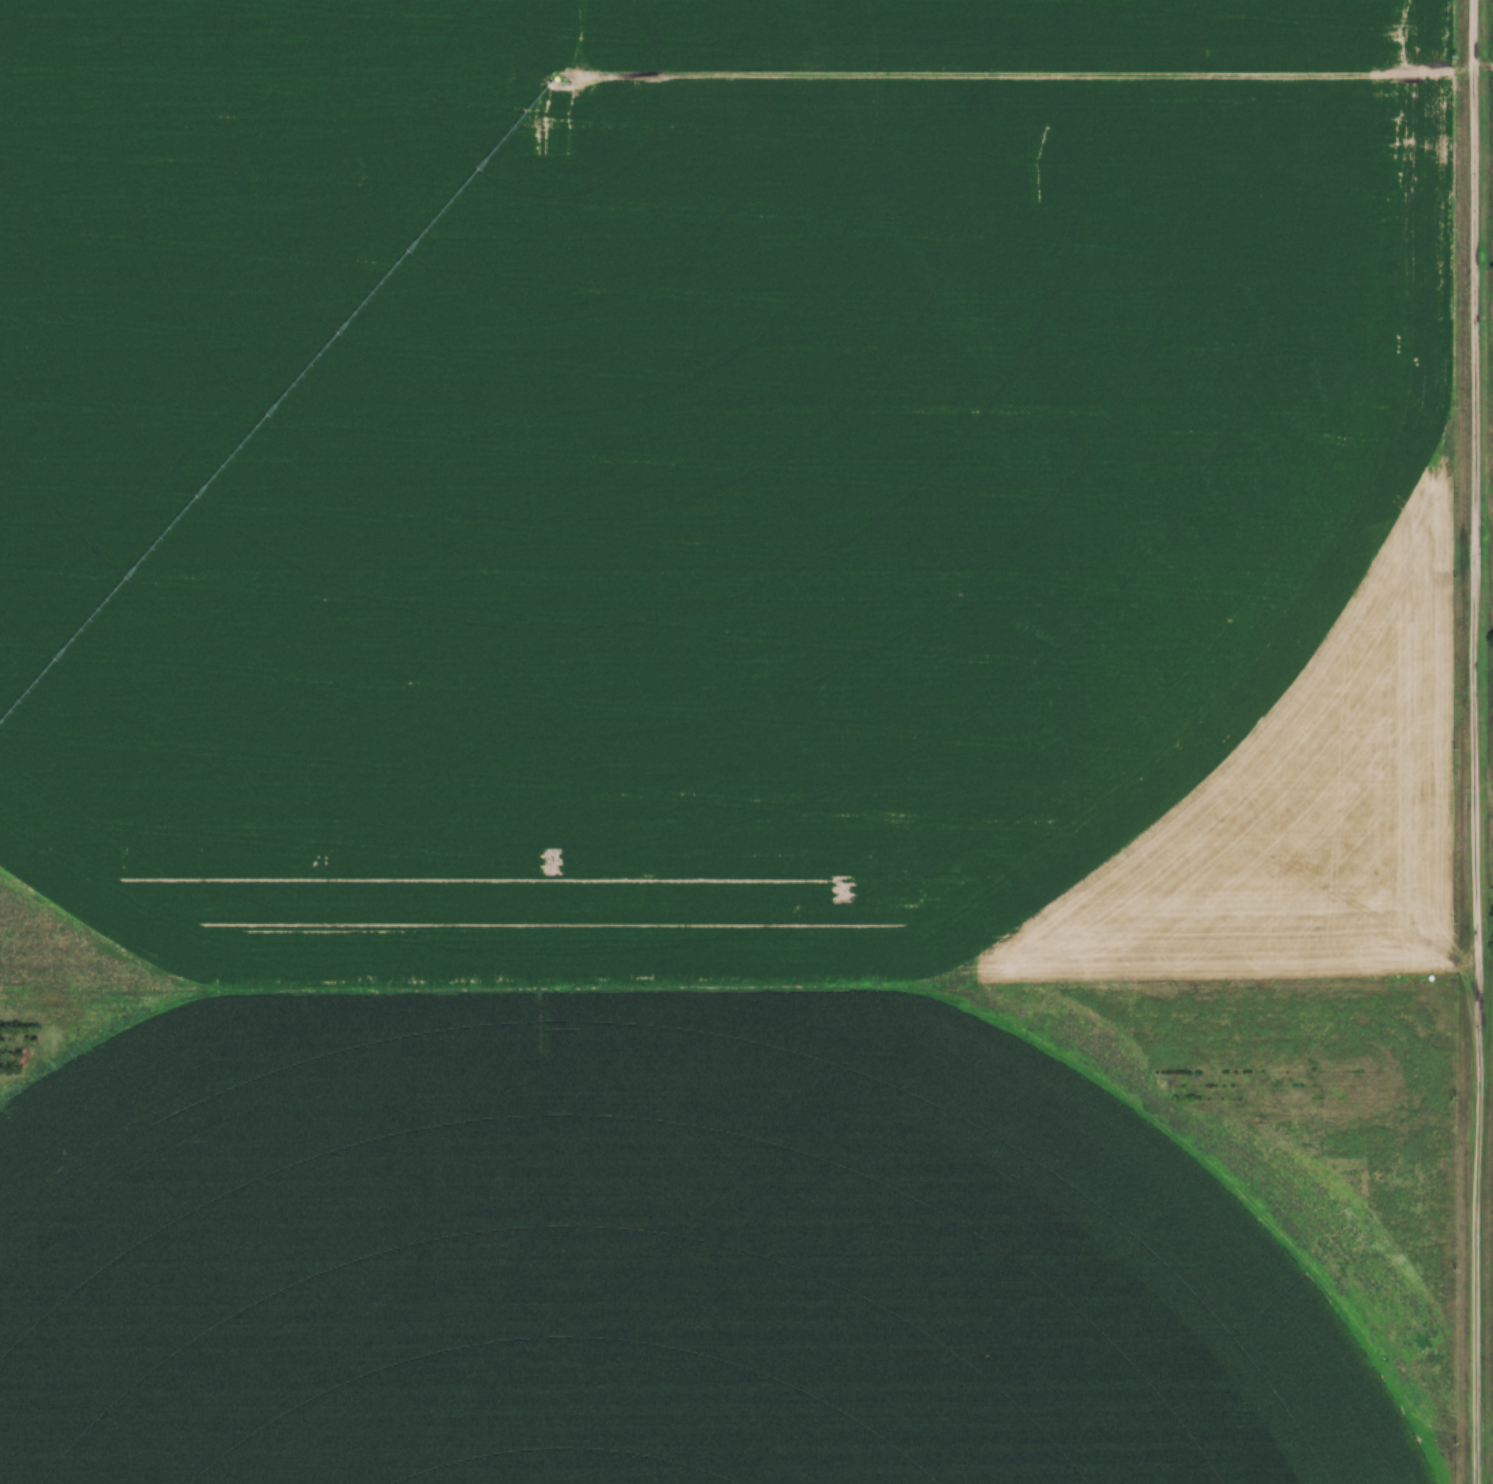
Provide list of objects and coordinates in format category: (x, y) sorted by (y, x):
road: (1479, 742)

